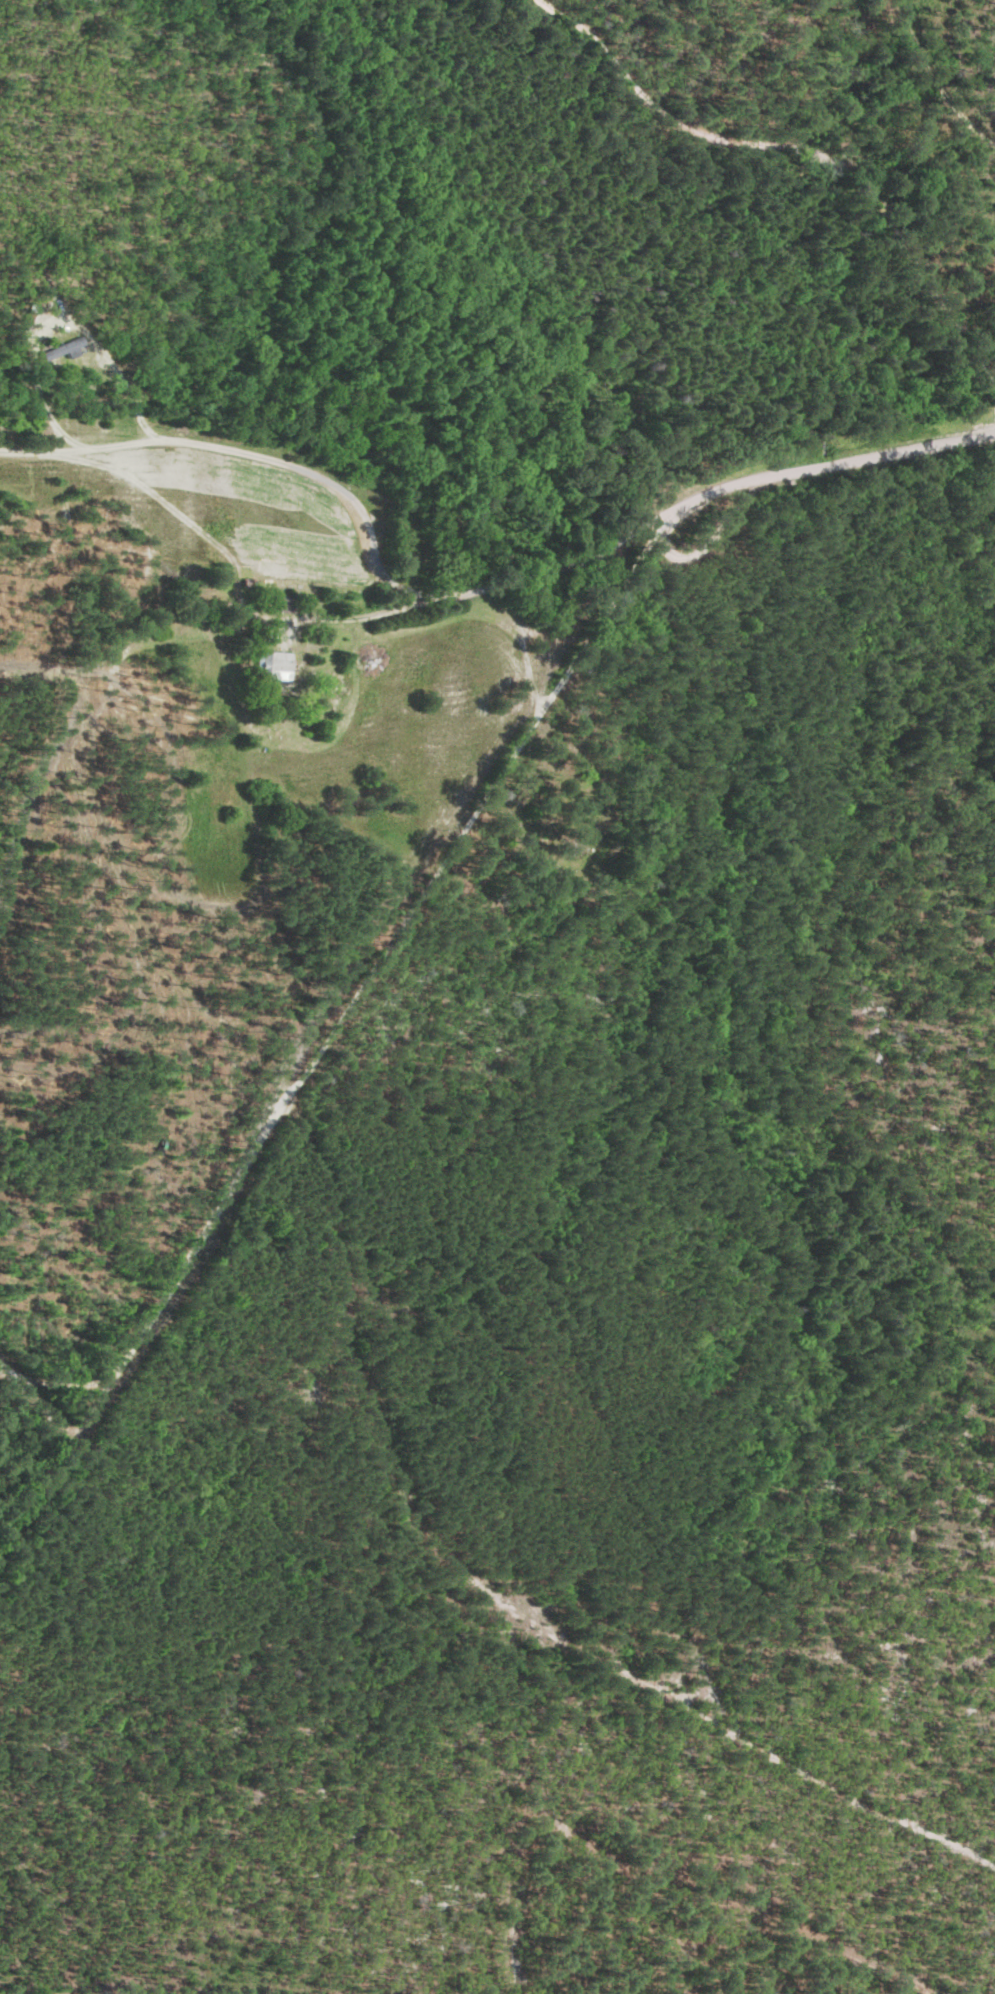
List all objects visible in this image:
building: (66, 348)
building: (277, 665)
road: (572, 665)

